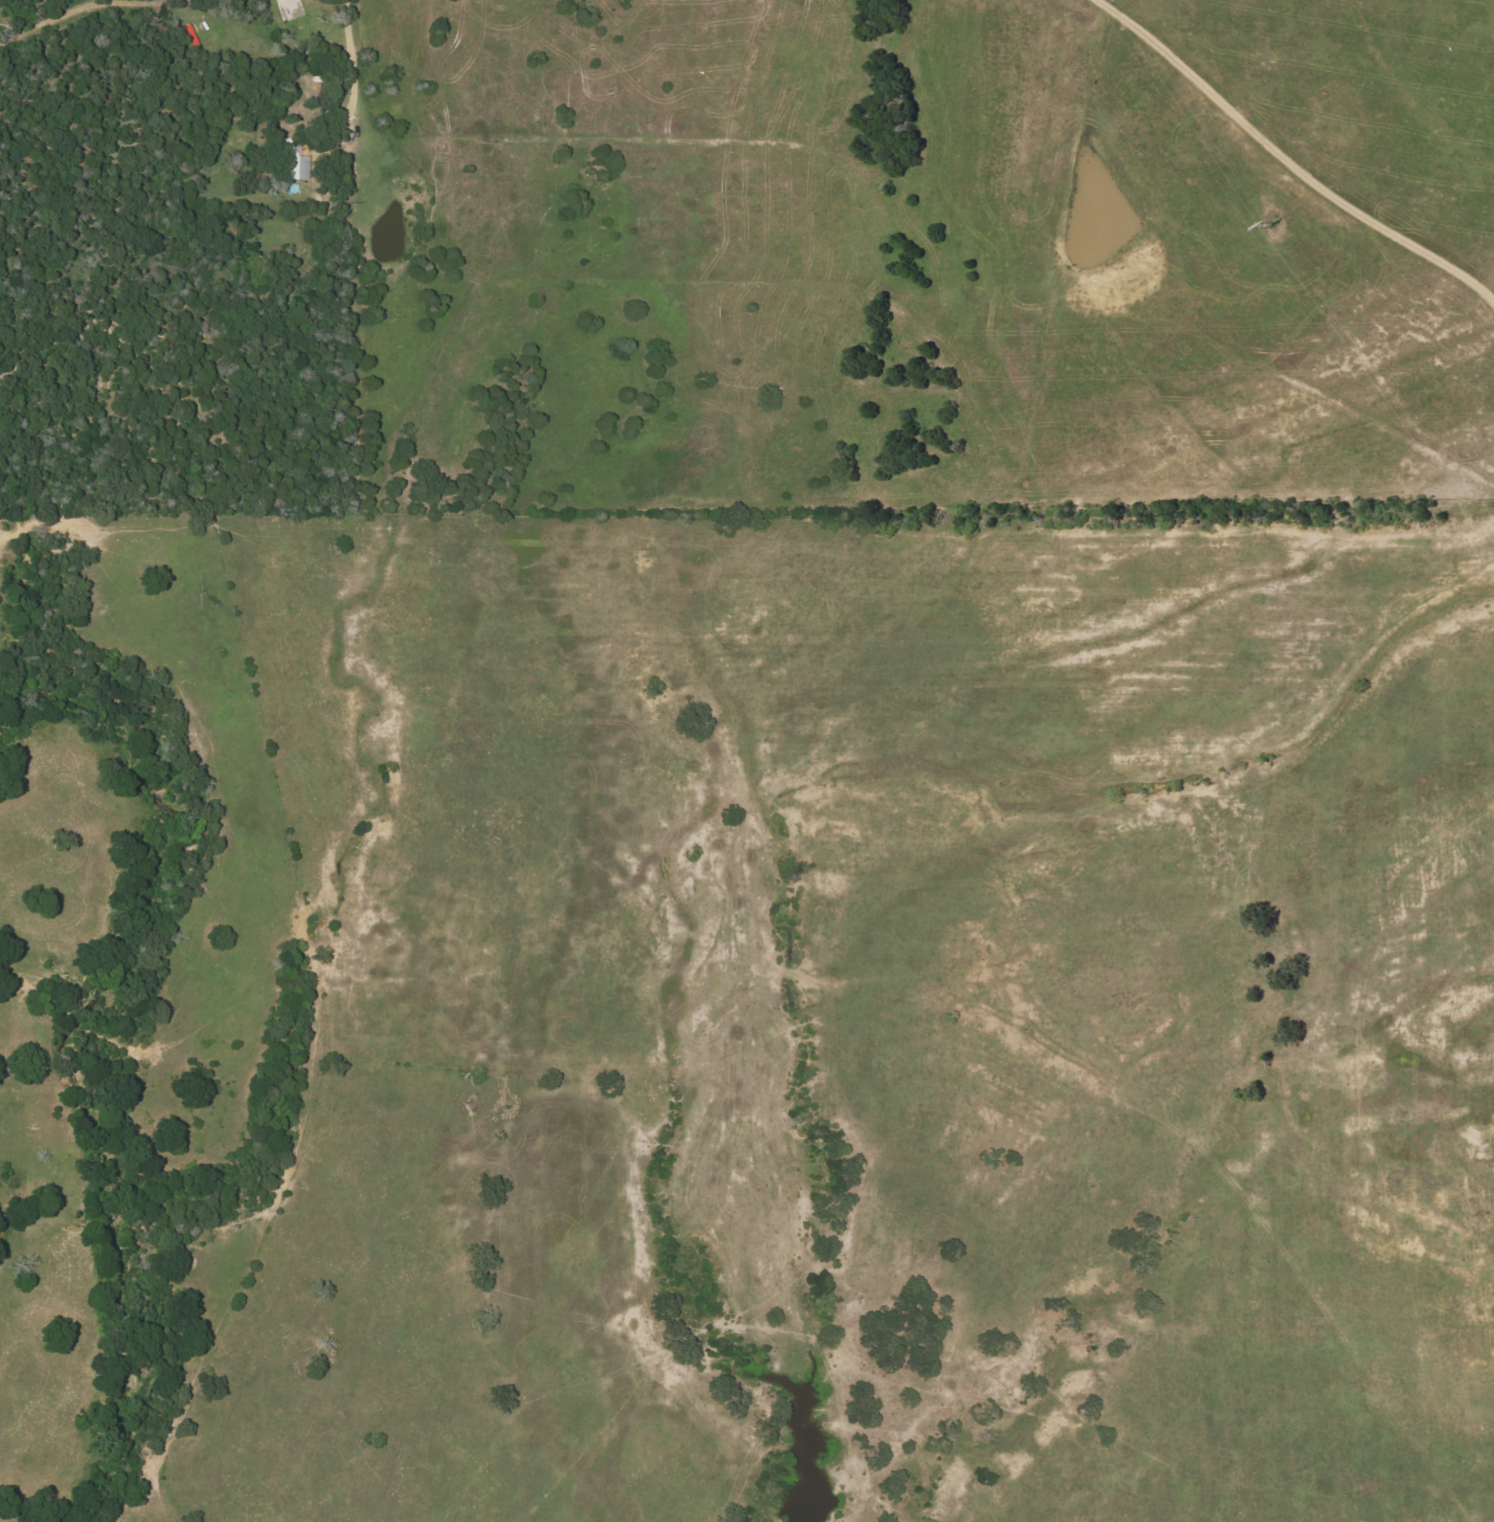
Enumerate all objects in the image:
road: (363, 53)
building: (291, 144)
road: (1289, 150)
building: (295, 167)
power tower: (1275, 224)

